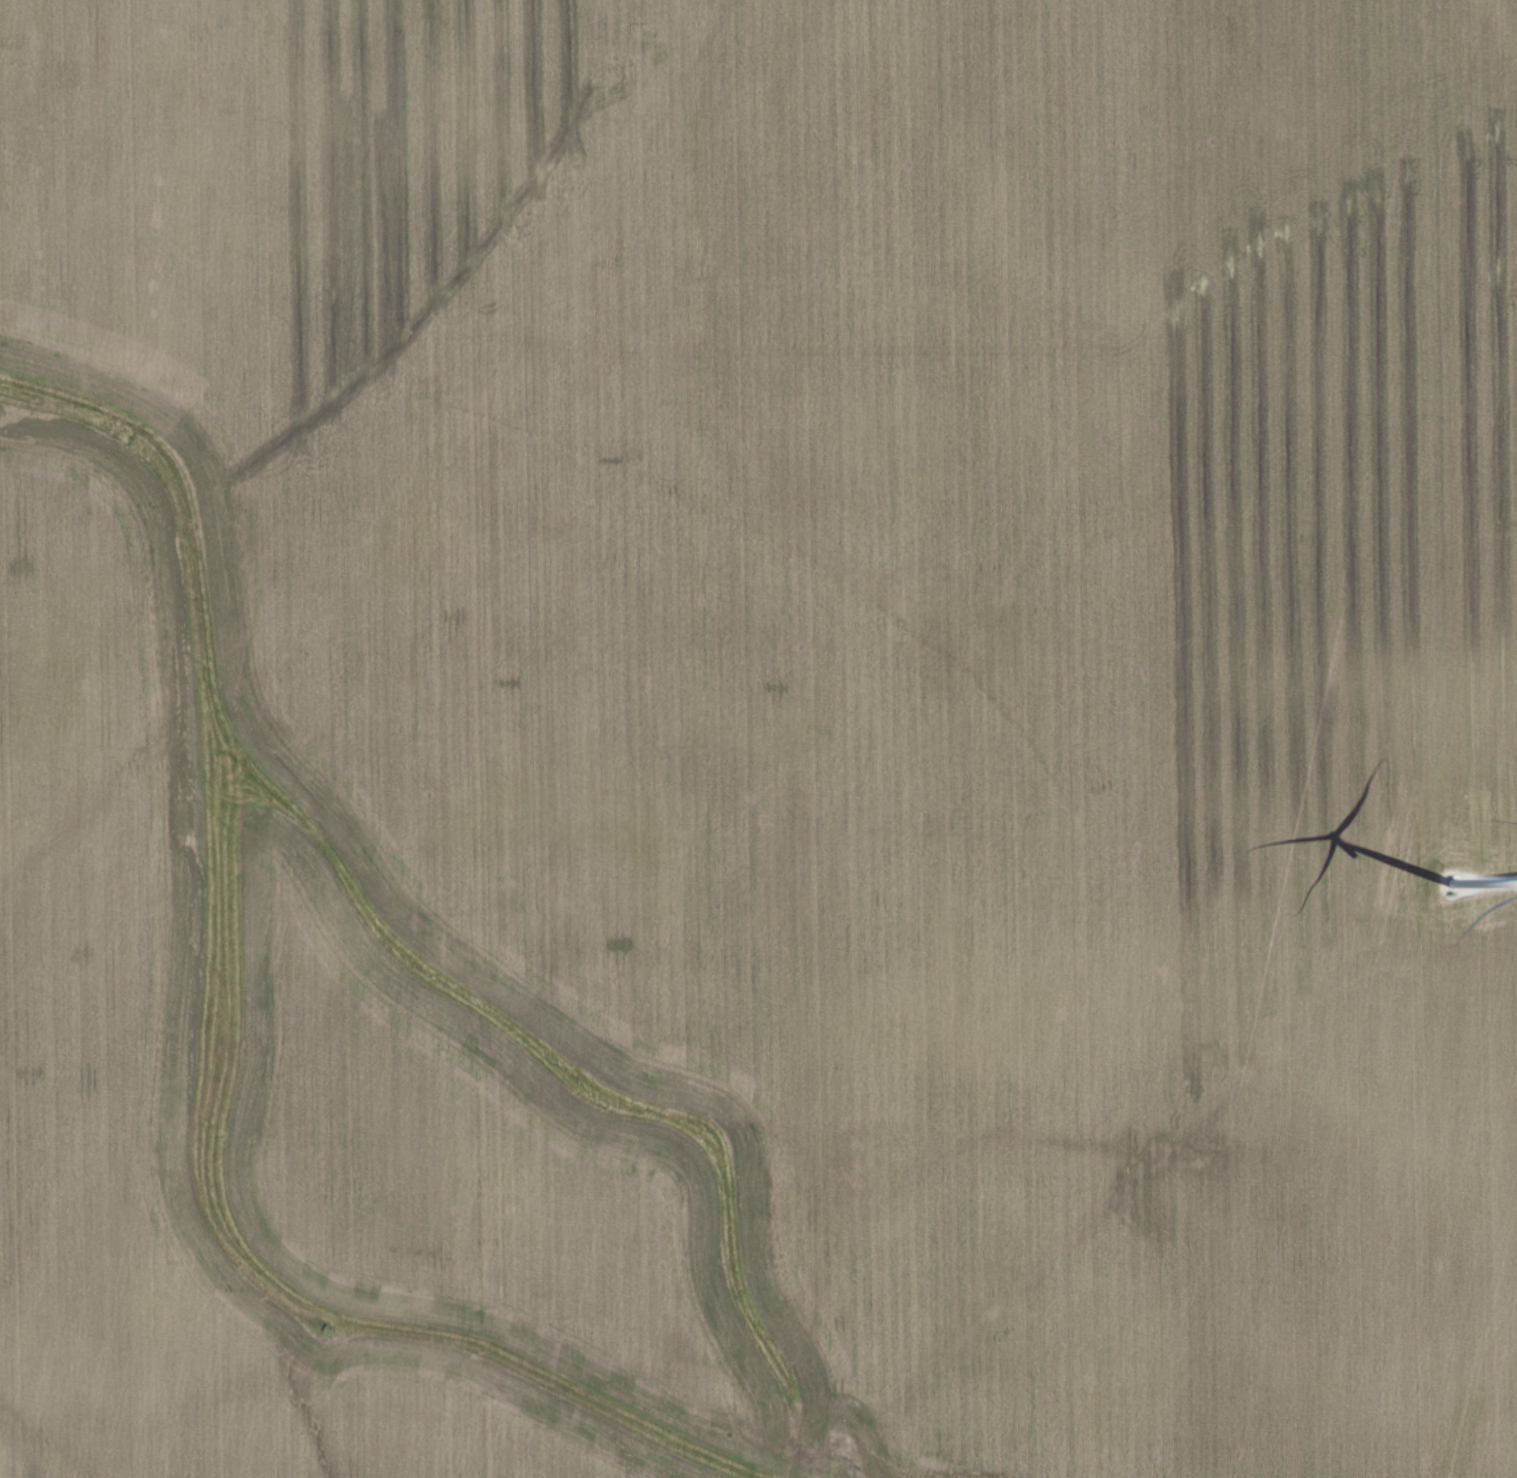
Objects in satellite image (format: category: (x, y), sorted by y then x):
wind turbine: (1455, 887)

